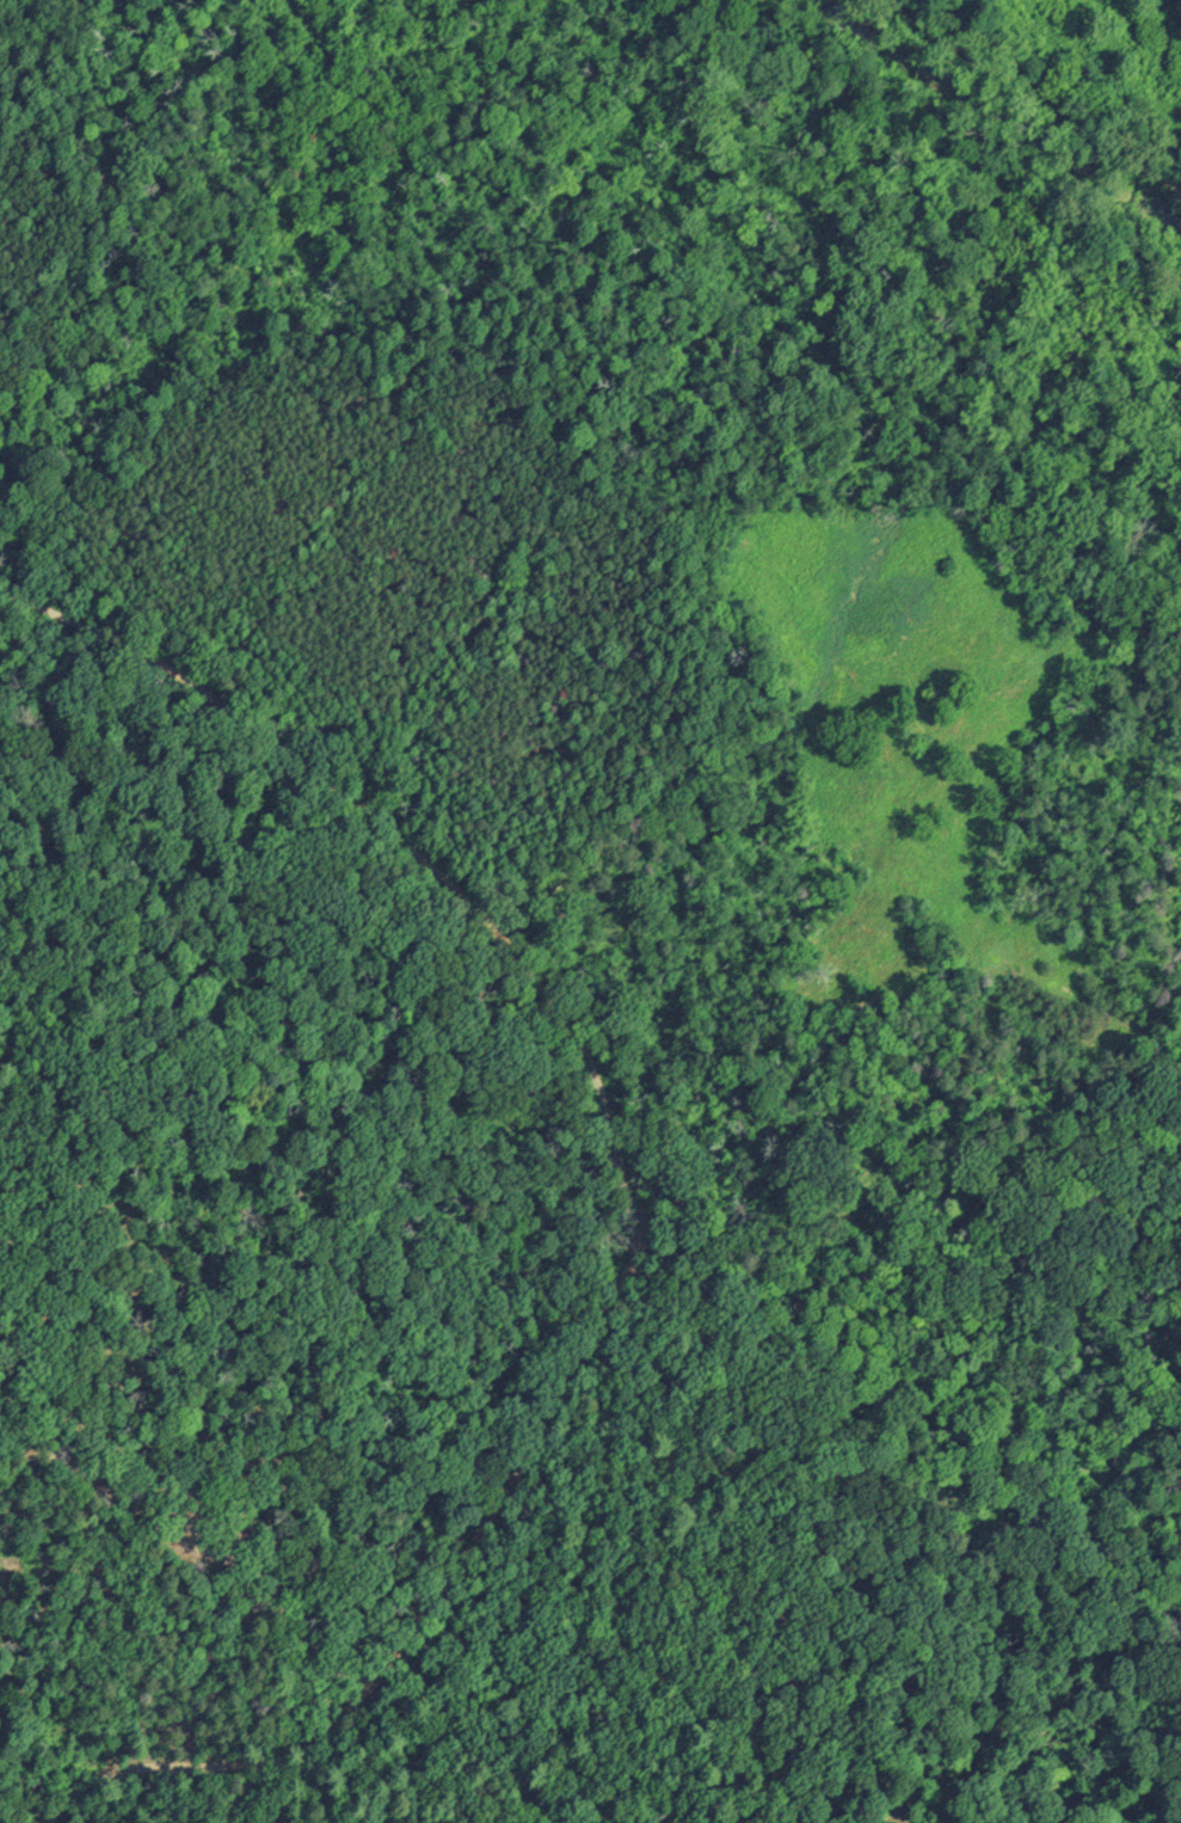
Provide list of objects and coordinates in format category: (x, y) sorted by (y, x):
road: (1031, 97)
road: (629, 1210)

